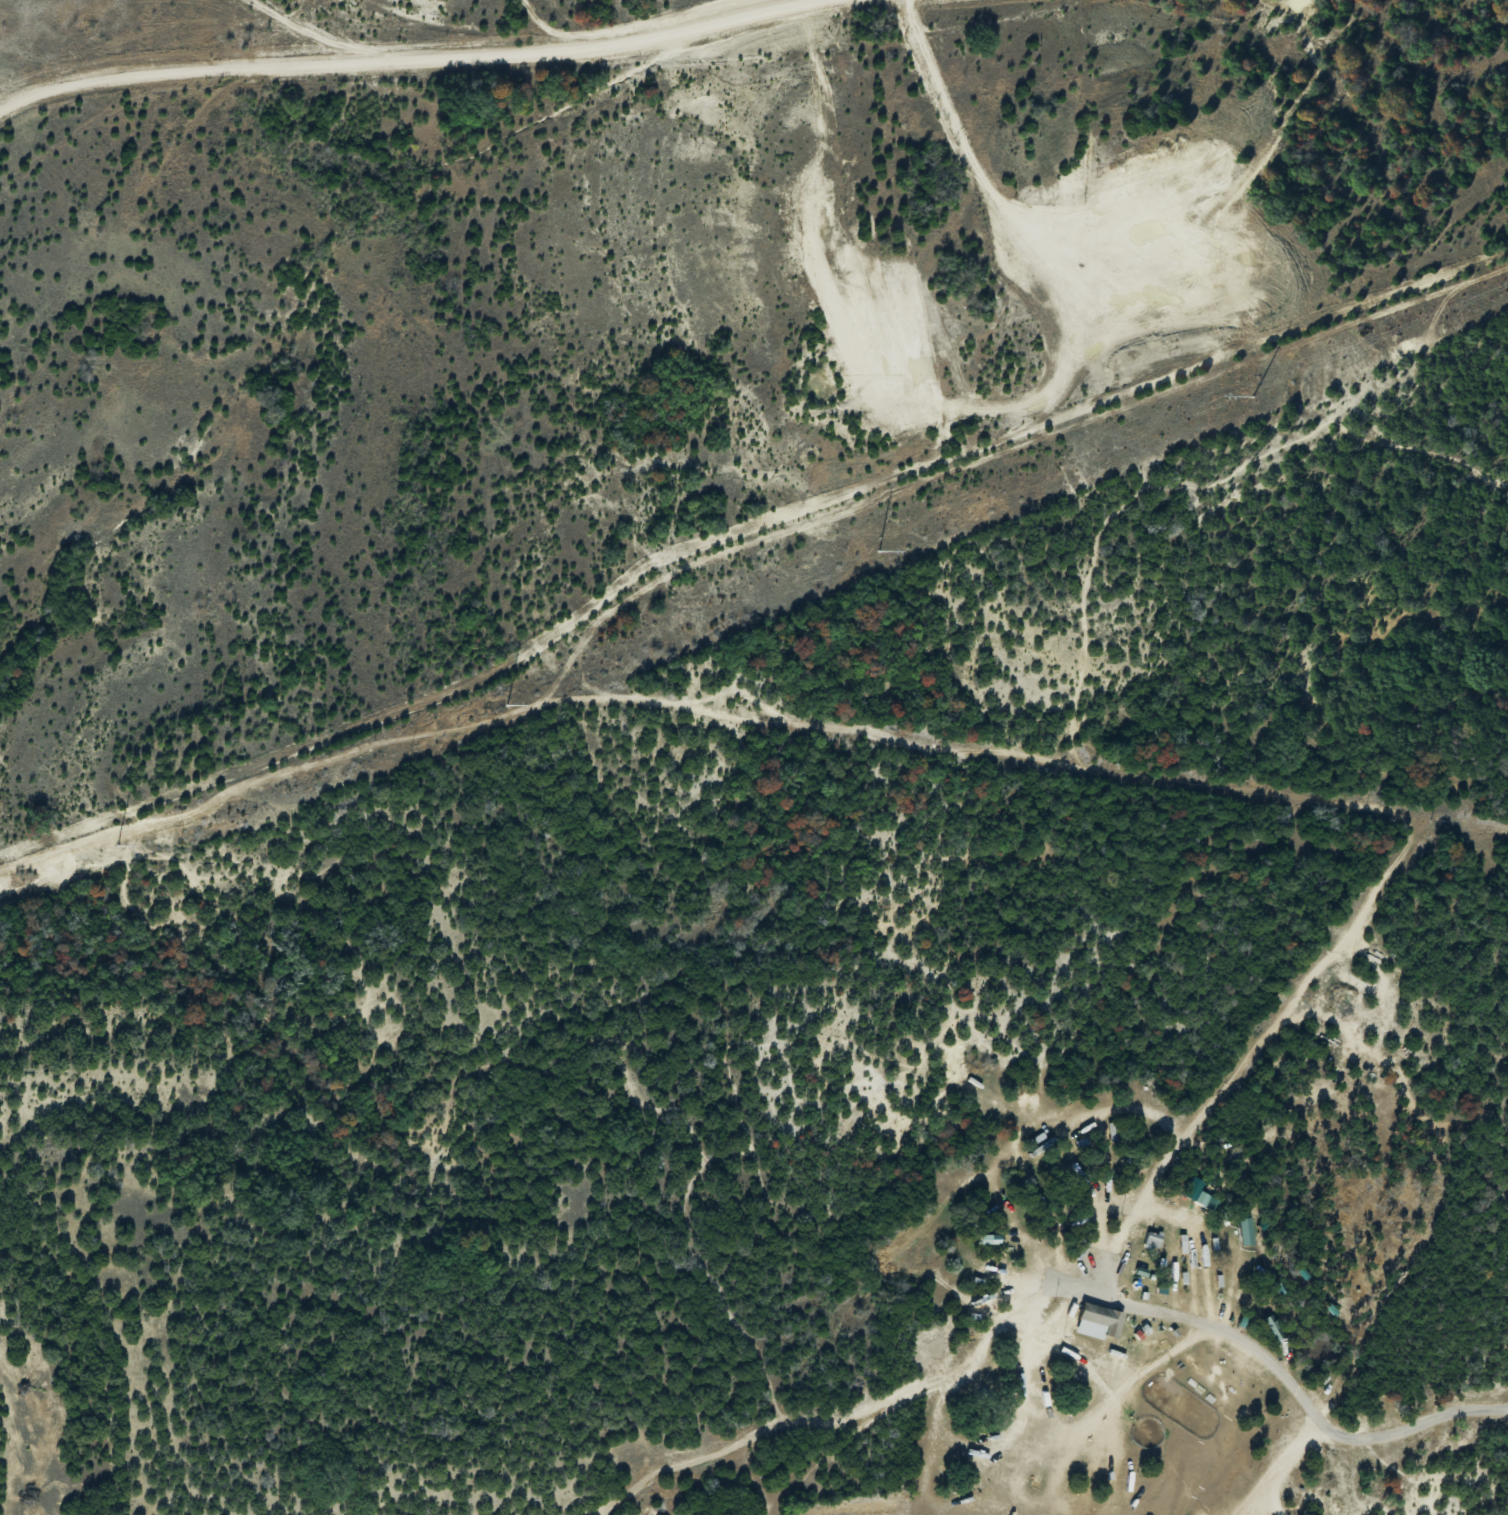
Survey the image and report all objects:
road: (393, 61)
power tower: (1250, 396)
power tower: (880, 550)
power tower: (507, 703)
power tower: (118, 845)
building: (1199, 1193)
road: (1134, 1210)
building: (1245, 1230)
building: (989, 1238)
building: (1153, 1239)
building: (1183, 1242)
building: (1098, 1320)
road: (1295, 1385)
road: (1278, 1463)

